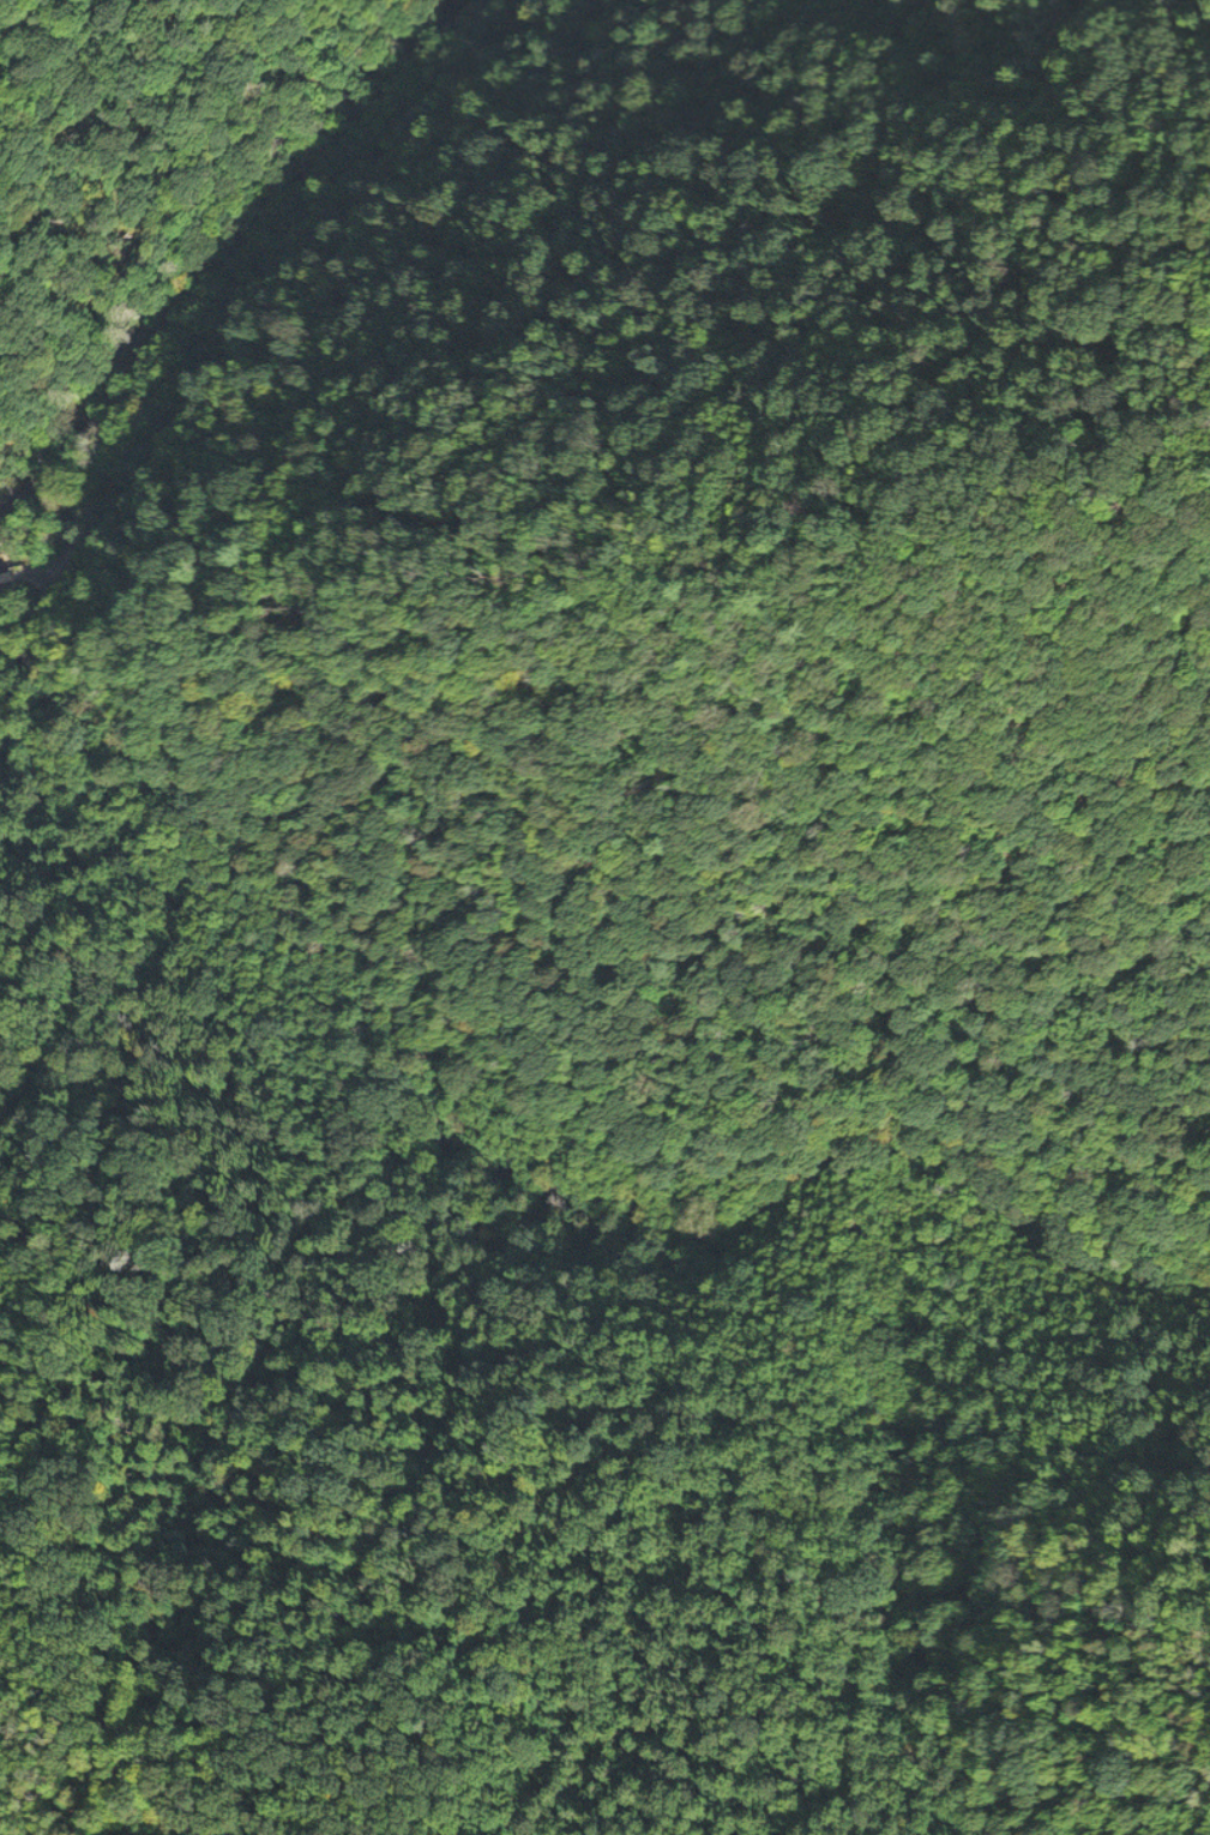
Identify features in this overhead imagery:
road: (572, 8)
road: (261, 266)
road: (16, 579)

